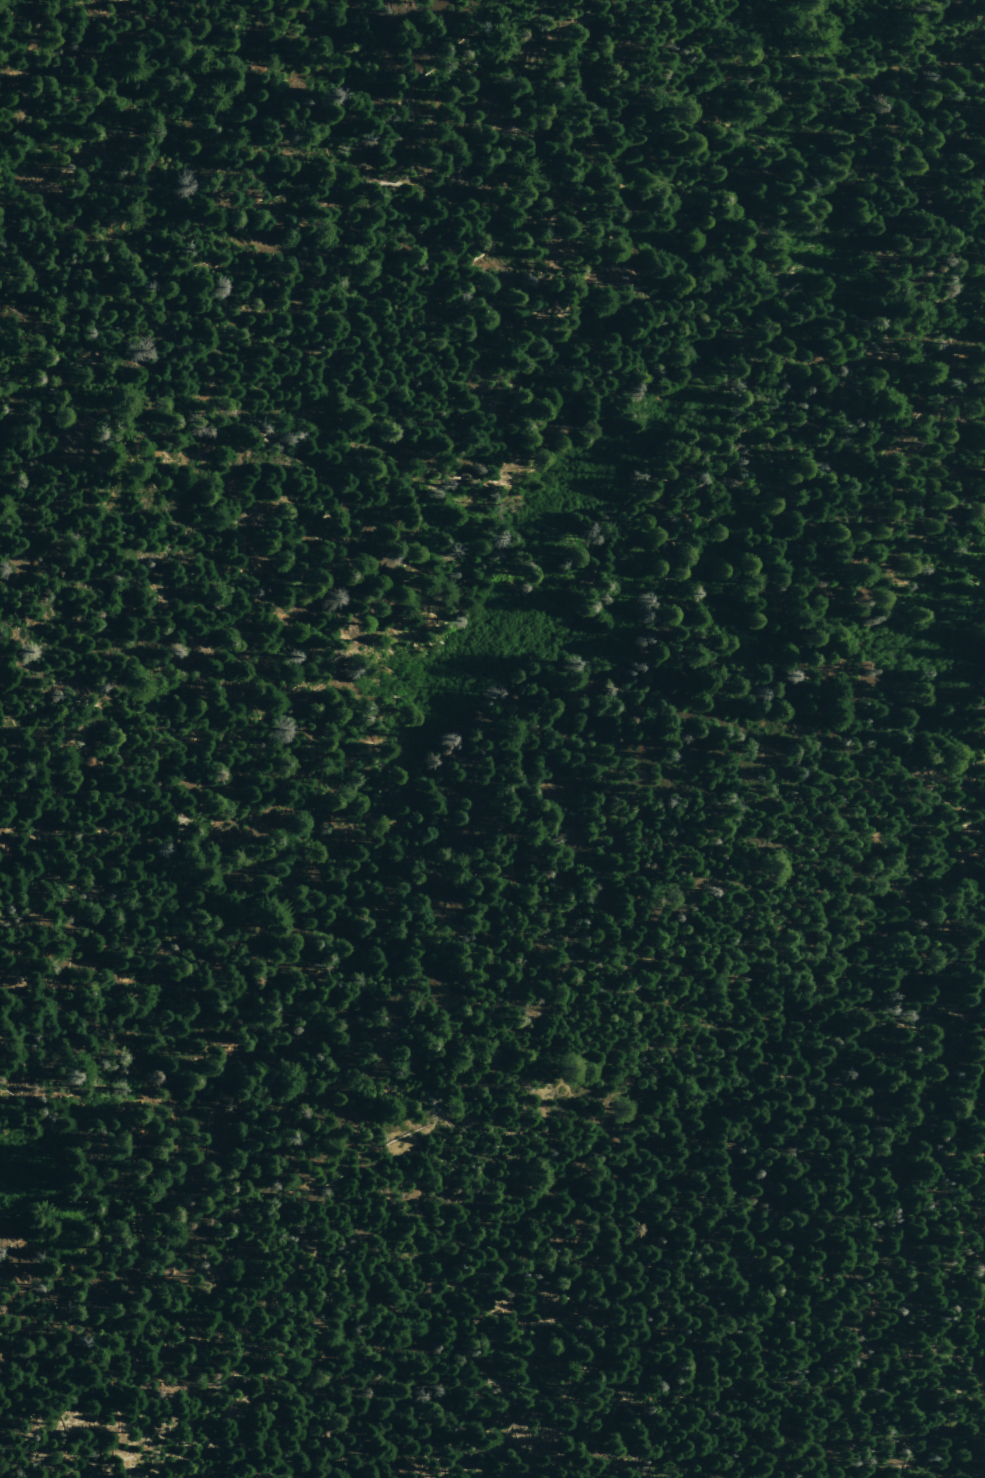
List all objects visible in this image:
road: (300, 9)
road: (62, 61)
road: (338, 1181)

